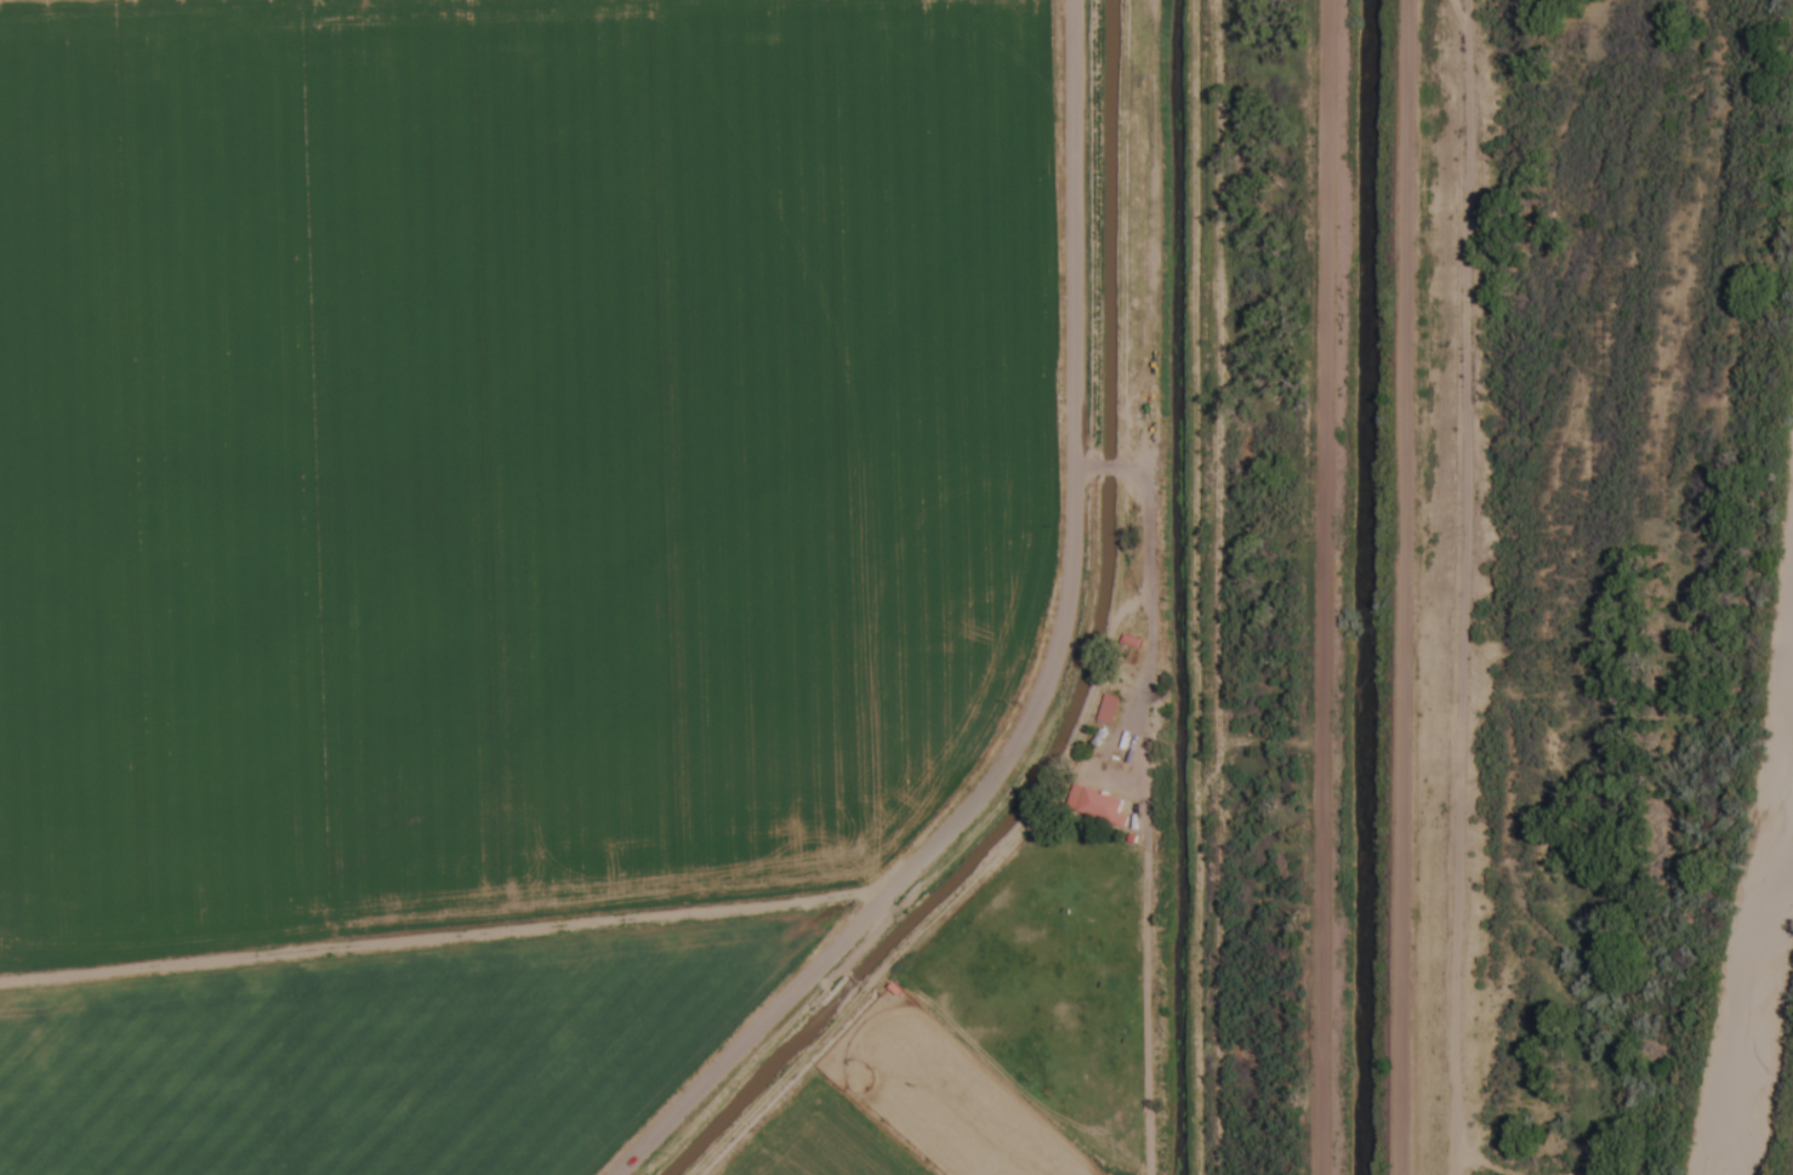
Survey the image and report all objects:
road: (1314, 587)
road: (1391, 587)
road: (1139, 591)
road: (1046, 662)
building: (1106, 711)
building: (1097, 806)
river: (1757, 914)

